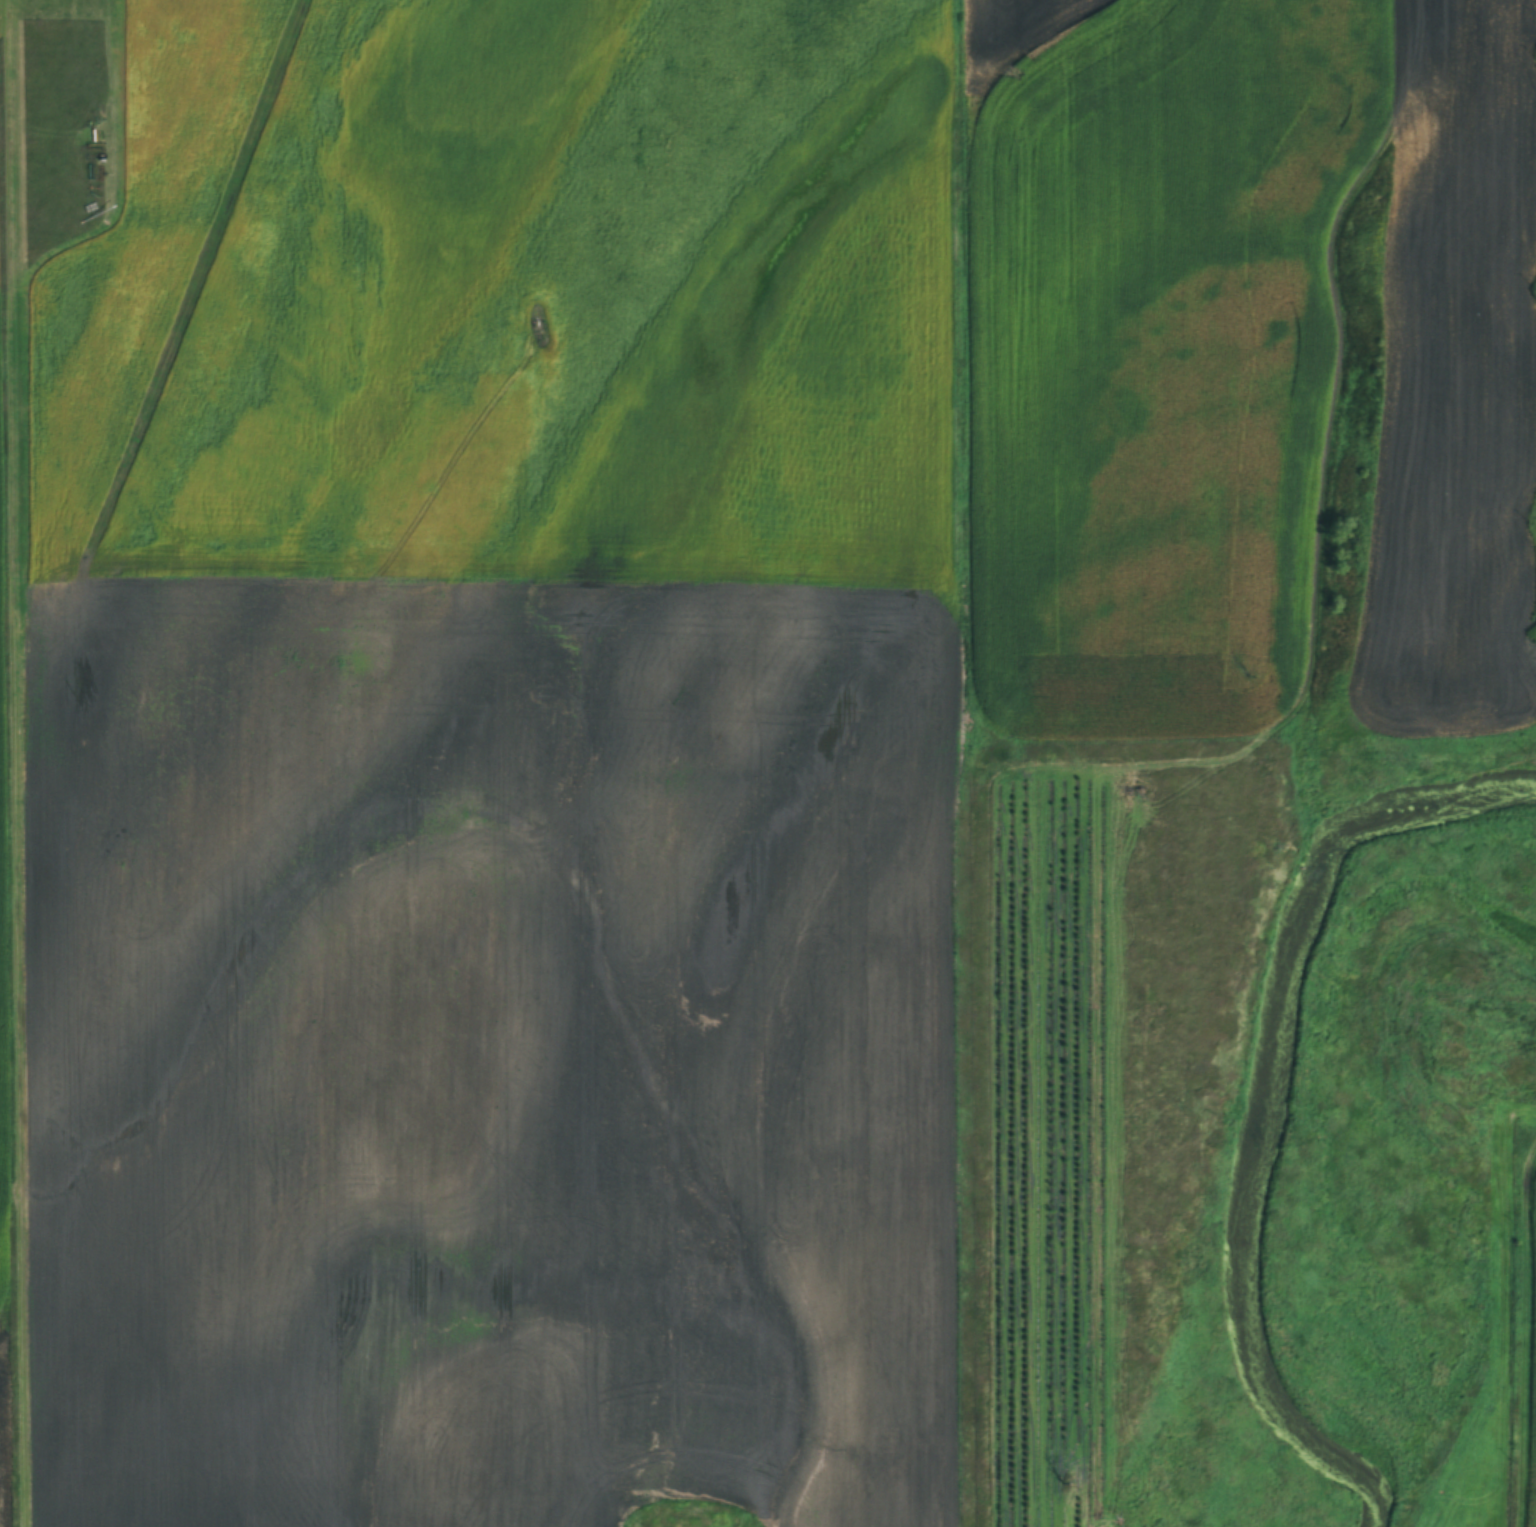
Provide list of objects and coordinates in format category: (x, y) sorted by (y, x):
river: (1272, 1106)

